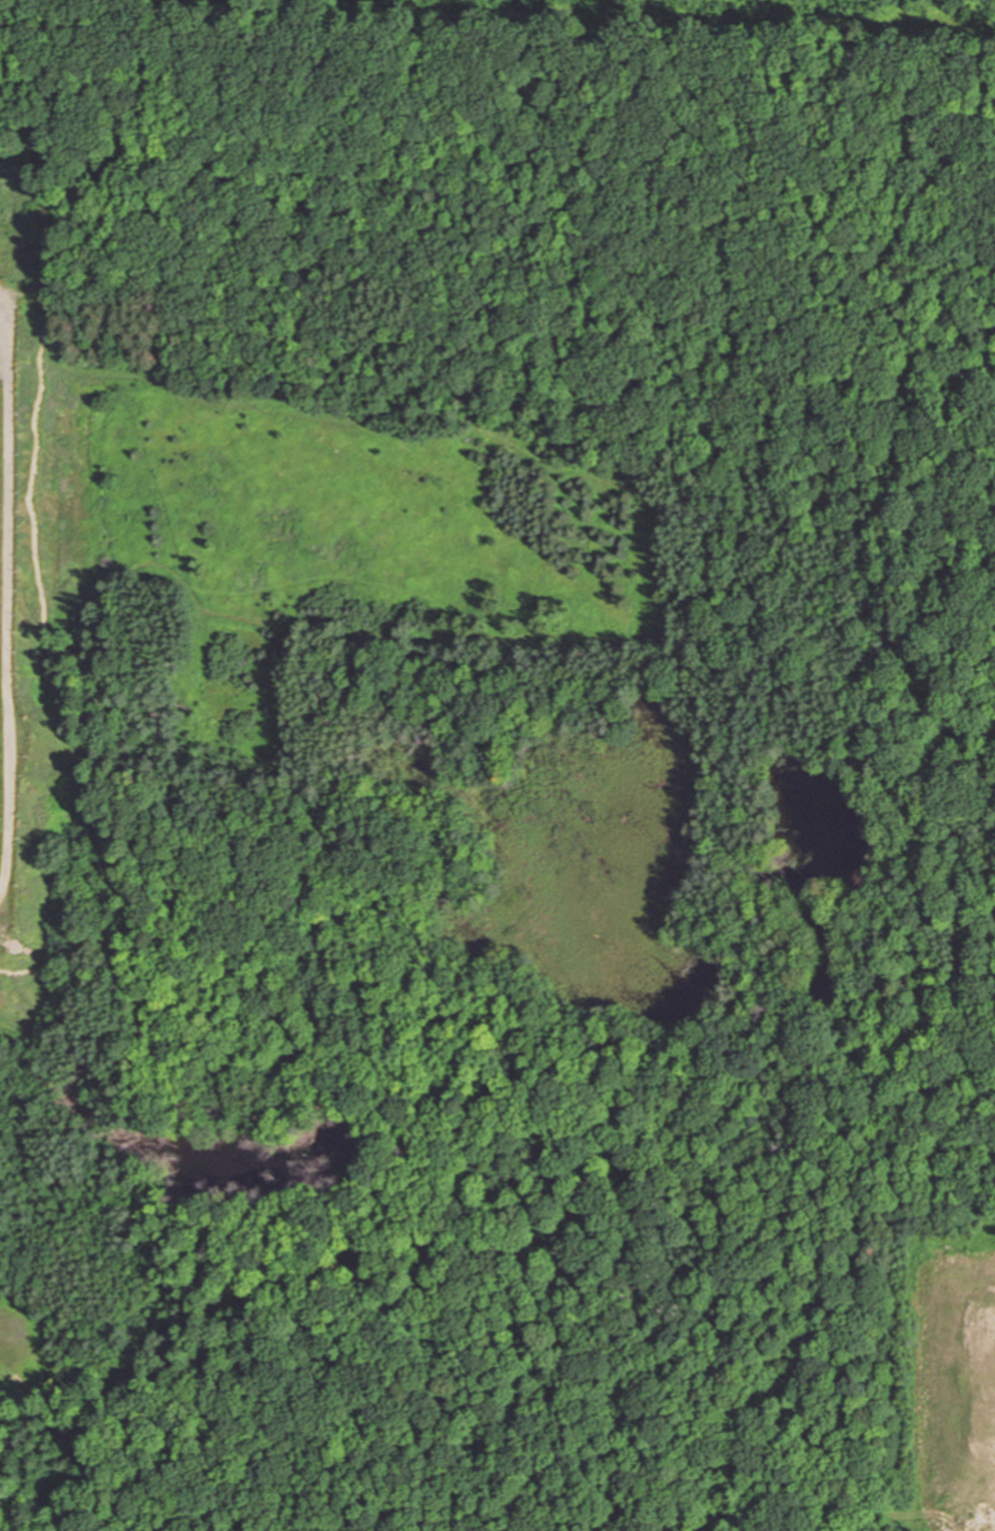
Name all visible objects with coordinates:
road: (699, 397)
road: (8, 618)
landfill: (496, 769)

